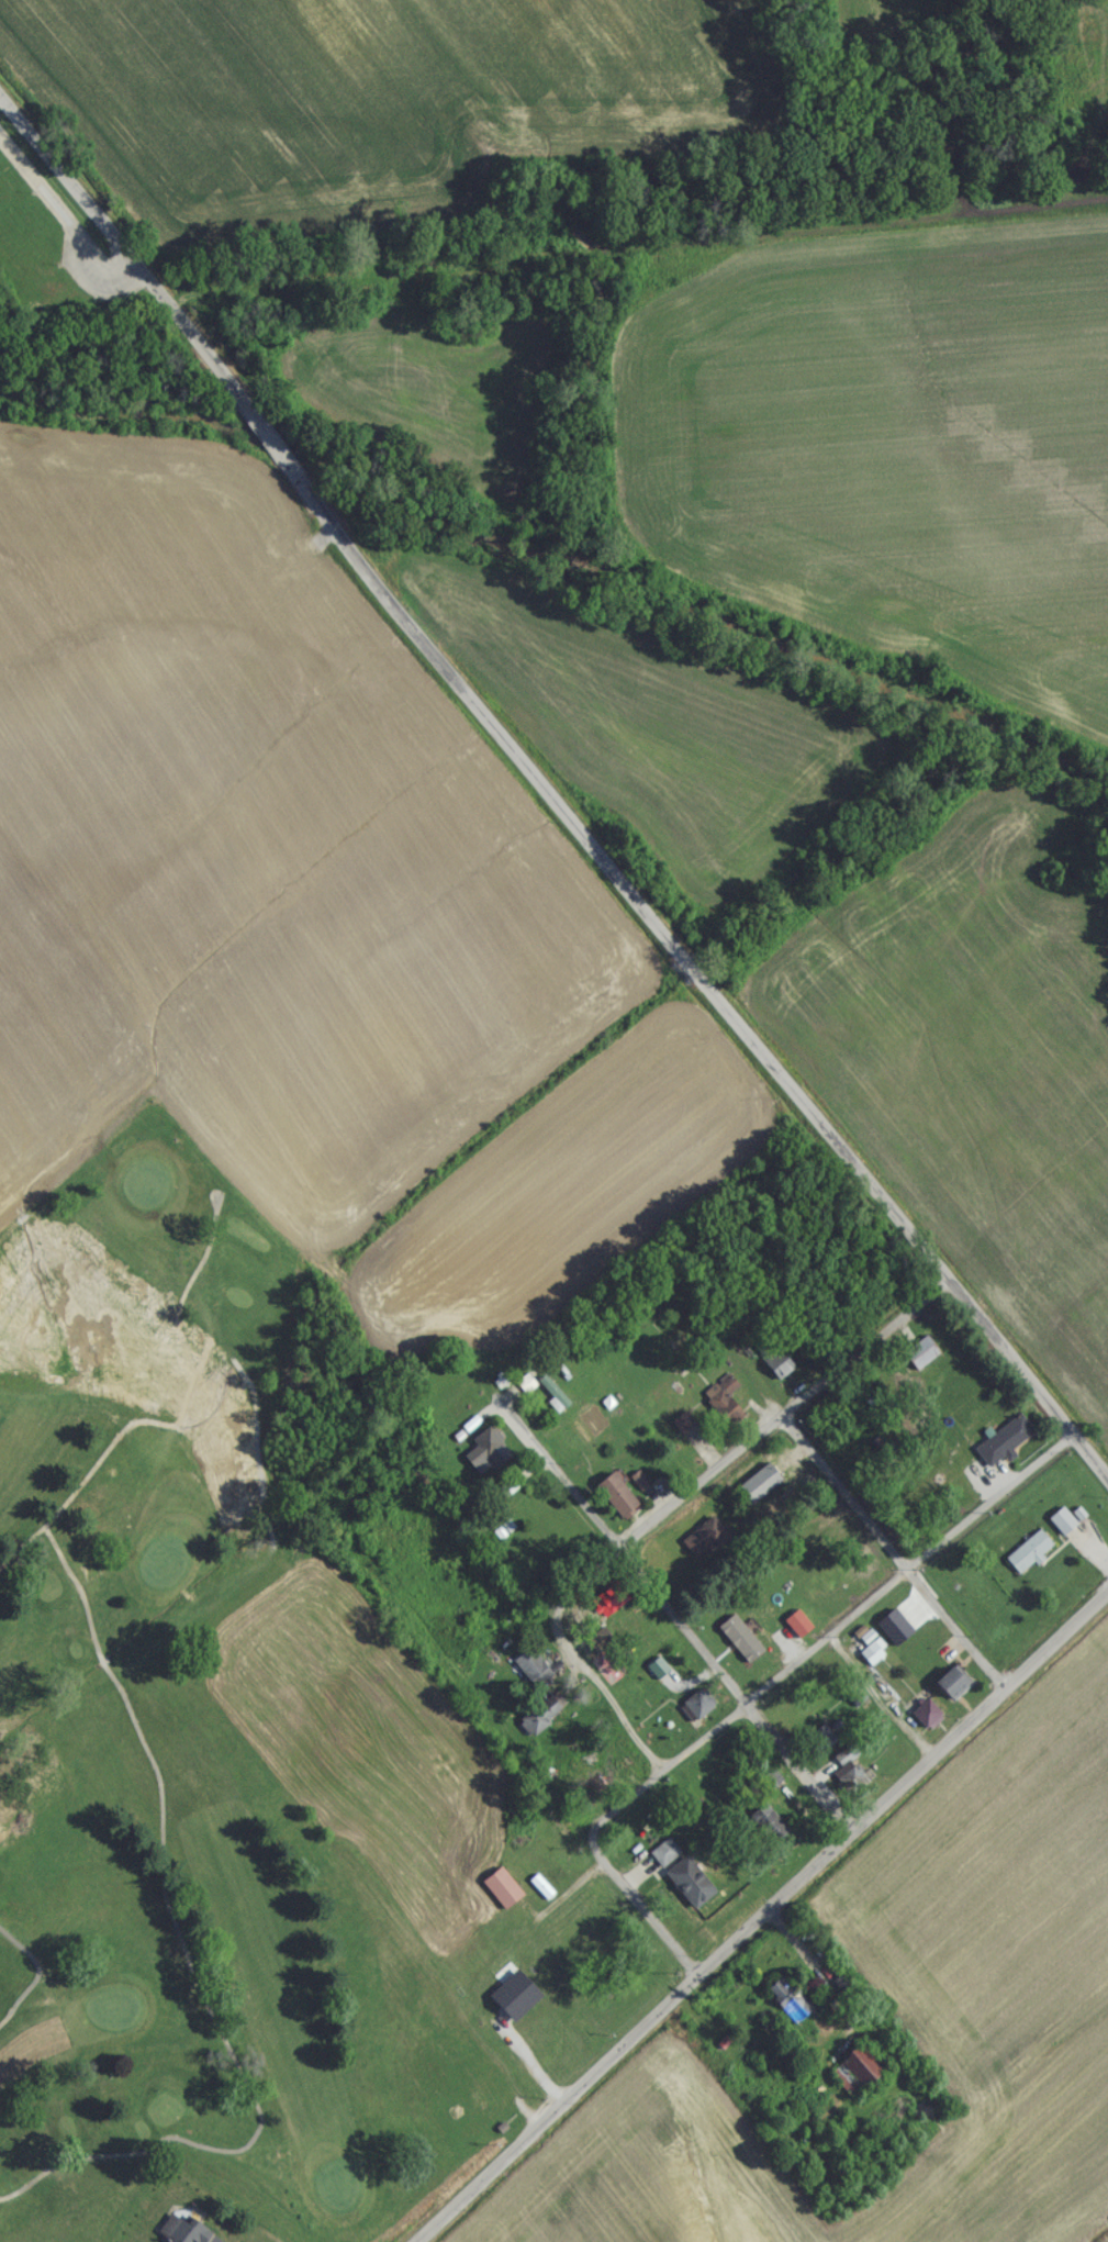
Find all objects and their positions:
road: (547, 799)
road: (214, 1198)
building: (919, 1361)
building: (775, 1369)
road: (225, 1408)
building: (721, 1408)
building: (684, 1427)
road: (188, 1432)
building: (1003, 1448)
road: (560, 1484)
building: (757, 1492)
building: (614, 1503)
road: (670, 1503)
building: (1061, 1528)
road: (892, 1551)
building: (1028, 1560)
road: (78, 1594)
building: (605, 1609)
building: (795, 1631)
road: (827, 1637)
building: (871, 1660)
building: (607, 1670)
building: (658, 1672)
building: (531, 1677)
road: (738, 1688)
building: (951, 1689)
road: (884, 1694)
building: (698, 1708)
building: (925, 1720)
park: (350, 1733)
building: (819, 1747)
building: (848, 1776)
building: (768, 1788)
building: (766, 1829)
building: (663, 1858)
building: (689, 1885)
building: (501, 1893)
road: (646, 1911)
road: (763, 1917)
road: (38, 1981)
building: (787, 2006)
building: (501, 2033)
road: (220, 2039)
building: (535, 2041)
building: (855, 2075)
building: (181, 2232)

